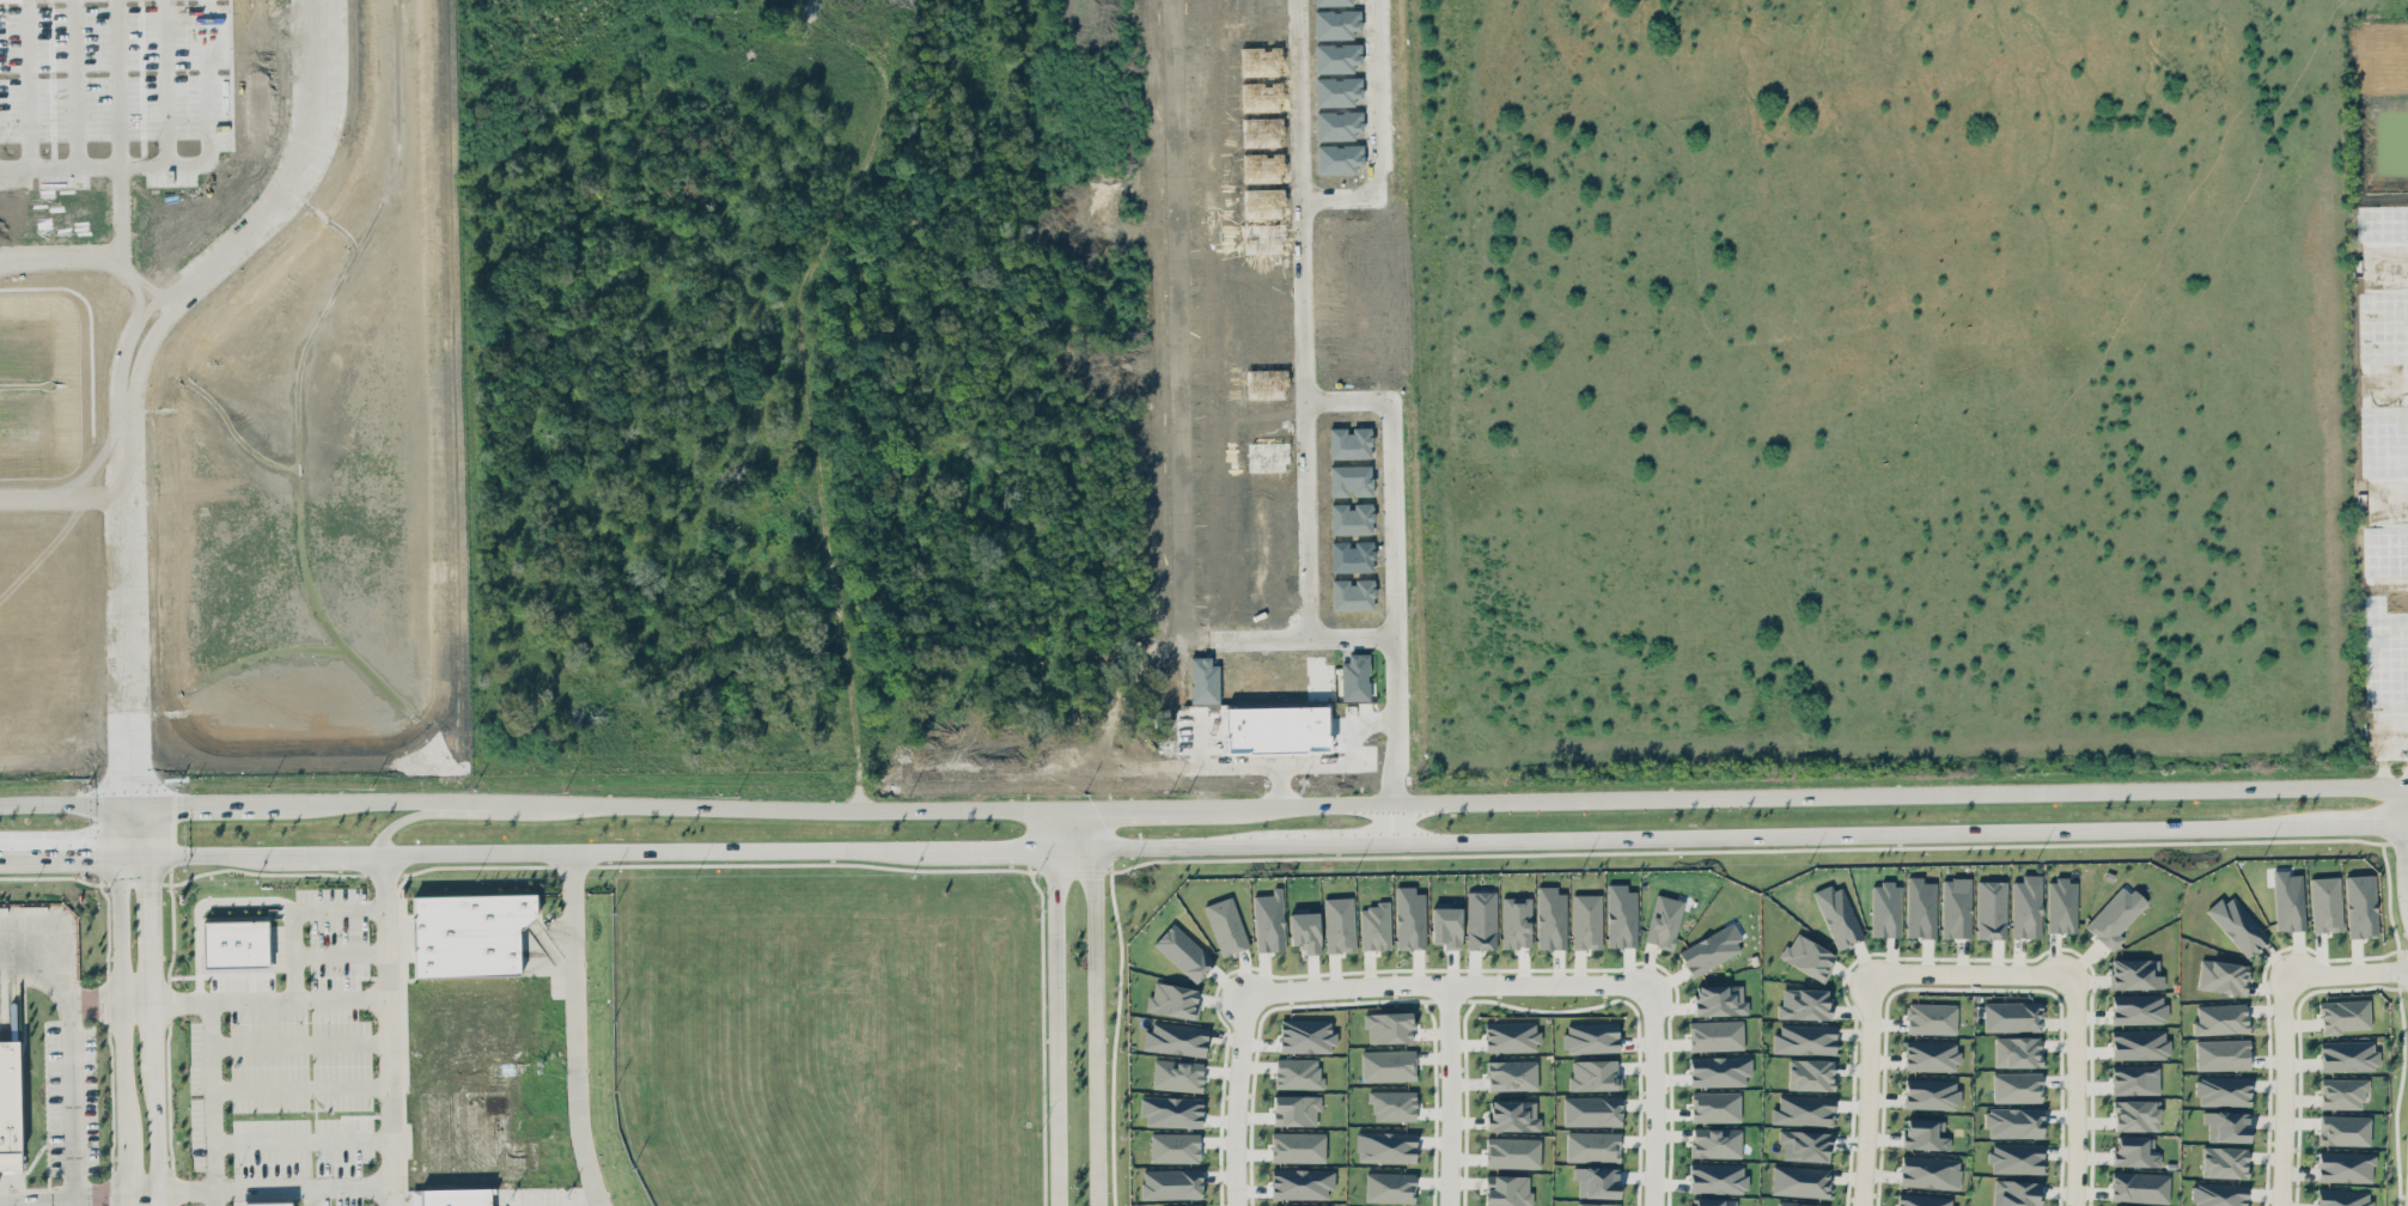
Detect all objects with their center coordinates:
road: (75, 81)
road: (118, 81)
road: (28, 83)
road: (165, 83)
road: (1297, 104)
road: (184, 165)
road: (1329, 201)
road: (118, 213)
road: (222, 254)
road: (89, 261)
road: (1179, 385)
road: (804, 389)
road: (1385, 412)
road: (126, 592)
road: (1333, 763)
road: (1203, 803)
road: (408, 815)
road: (1392, 820)
road: (1203, 841)
road: (2404, 843)
building: (2288, 900)
road: (201, 903)
building: (2325, 903)
building: (2026, 906)
building: (2061, 906)
building: (2361, 906)
building: (1920, 907)
building: (1956, 907)
road: (293, 908)
building: (1885, 908)
building: (1991, 908)
building: (1620, 915)
building: (1837, 915)
building: (1409, 918)
building: (1550, 918)
building: (2114, 918)
building: (1480, 919)
building: (1268, 920)
building: (1585, 920)
building: (1663, 921)
building: (1339, 924)
building: (2237, 924)
building: (1225, 925)
building: (1374, 926)
building: (1446, 926)
building: (1304, 931)
building: (234, 944)
building: (1709, 950)
building: (1183, 951)
road: (339, 955)
building: (1807, 956)
road: (2345, 971)
building: (2136, 974)
road: (1973, 975)
building: (2223, 976)
road: (1449, 986)
road: (226, 998)
building: (1719, 999)
building: (1172, 1000)
building: (1804, 1003)
road: (120, 1004)
road: (152, 1004)
road: (1054, 1005)
road: (1095, 1005)
building: (2138, 1009)
building: (2345, 1015)
building: (2012, 1016)
building: (1931, 1018)
building: (2220, 1018)
building: (1388, 1027)
road: (386, 1029)
road: (574, 1029)
building: (1715, 1034)
building: (1305, 1035)
building: (1511, 1035)
building: (1590, 1036)
building: (1175, 1037)
building: (488, 1038)
building: (1804, 1038)
road: (298, 1041)
building: (2139, 1043)
building: (2017, 1050)
building: (2221, 1054)
building: (1931, 1055)
building: (2347, 1055)
road: (69, 1058)
building: (1388, 1065)
building: (1718, 1070)
building: (1297, 1072)
building: (1177, 1073)
building: (1810, 1073)
building: (1511, 1074)
building: (1593, 1074)
building: (2134, 1079)
building: (2017, 1086)
road: (299, 1089)
road: (1867, 1090)
building: (2223, 1090)
road: (2286, 1090)
road: (2077, 1091)
building: (1931, 1092)
building: (2342, 1092)
road: (1654, 1095)
road: (1449, 1096)
road: (1237, 1098)
road: (211, 1102)
parking lot: (301, 1103)
building: (8, 1104)
building: (1392, 1104)
building: (1714, 1105)
building: (1294, 1109)
building: (1803, 1109)
building: (1171, 1110)
building: (1591, 1110)
building: (2135, 1114)
building: (1512, 1115)
building: (2013, 1121)
building: (2226, 1125)
building: (2343, 1129)
building: (1925, 1133)
road: (300, 1141)
building: (1715, 1141)
building: (1298, 1145)
building: (1592, 1145)
building: (1805, 1145)
building: (1175, 1146)
building: (1385, 1146)
building: (2135, 1151)
building: (1512, 1152)
building: (2016, 1157)
building: (2224, 1162)
building: (2345, 1165)
building: (1930, 1171)
building: (1717, 1177)
building: (1596, 1181)
building: (1799, 1181)
building: (1300, 1182)
building: (1171, 1183)
building: (1389, 1186)
road: (194, 1187)
building: (2139, 1187)
building: (1507, 1189)
building: (2017, 1192)
building: (2218, 1194)
road: (317, 1196)
building: (2342, 1196)
building: (1925, 1200)
road: (28, 1202)
parking lot: (79, 1204)
building: (267, 1204)
building: (1597, 1204)
building: (1799, 1204)
building: (1187, 1205)
building: (1292, 1205)
building: (2114, 1205)

